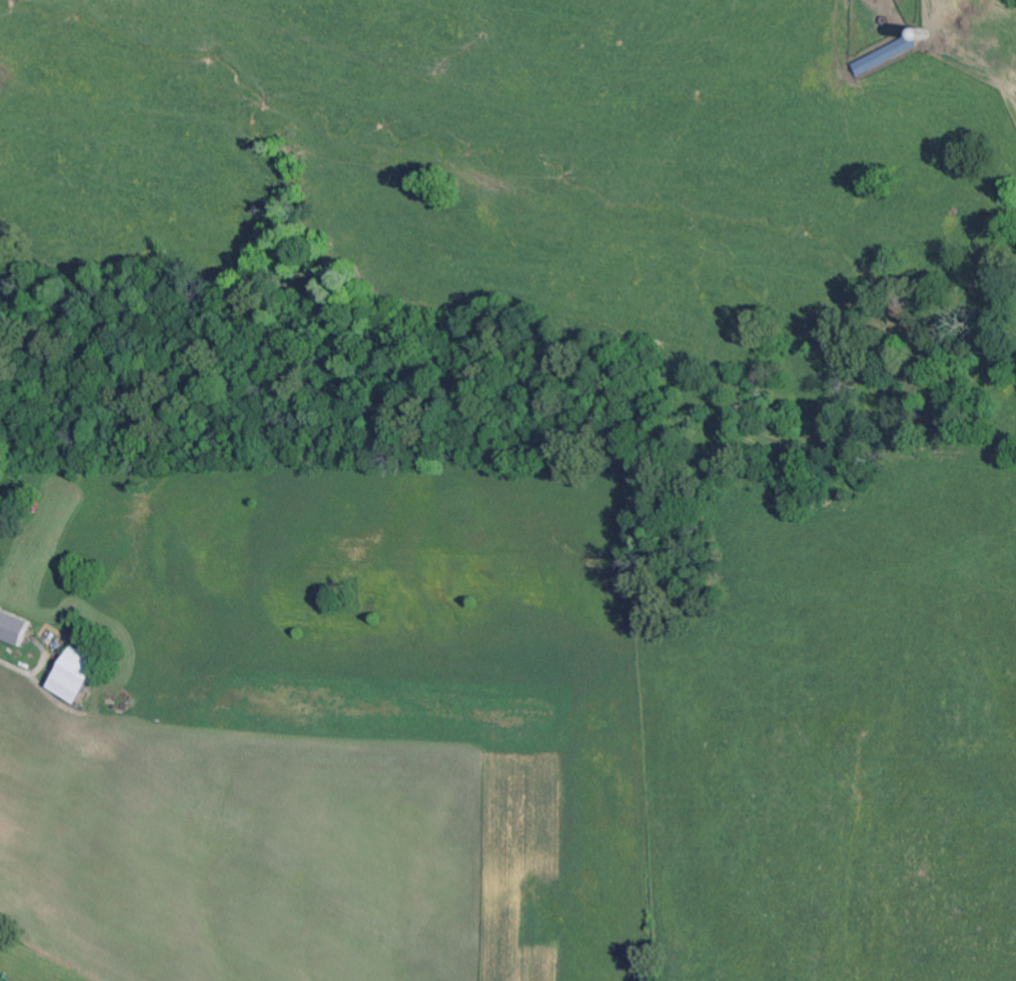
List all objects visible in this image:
building: (14, 628)
building: (74, 674)

